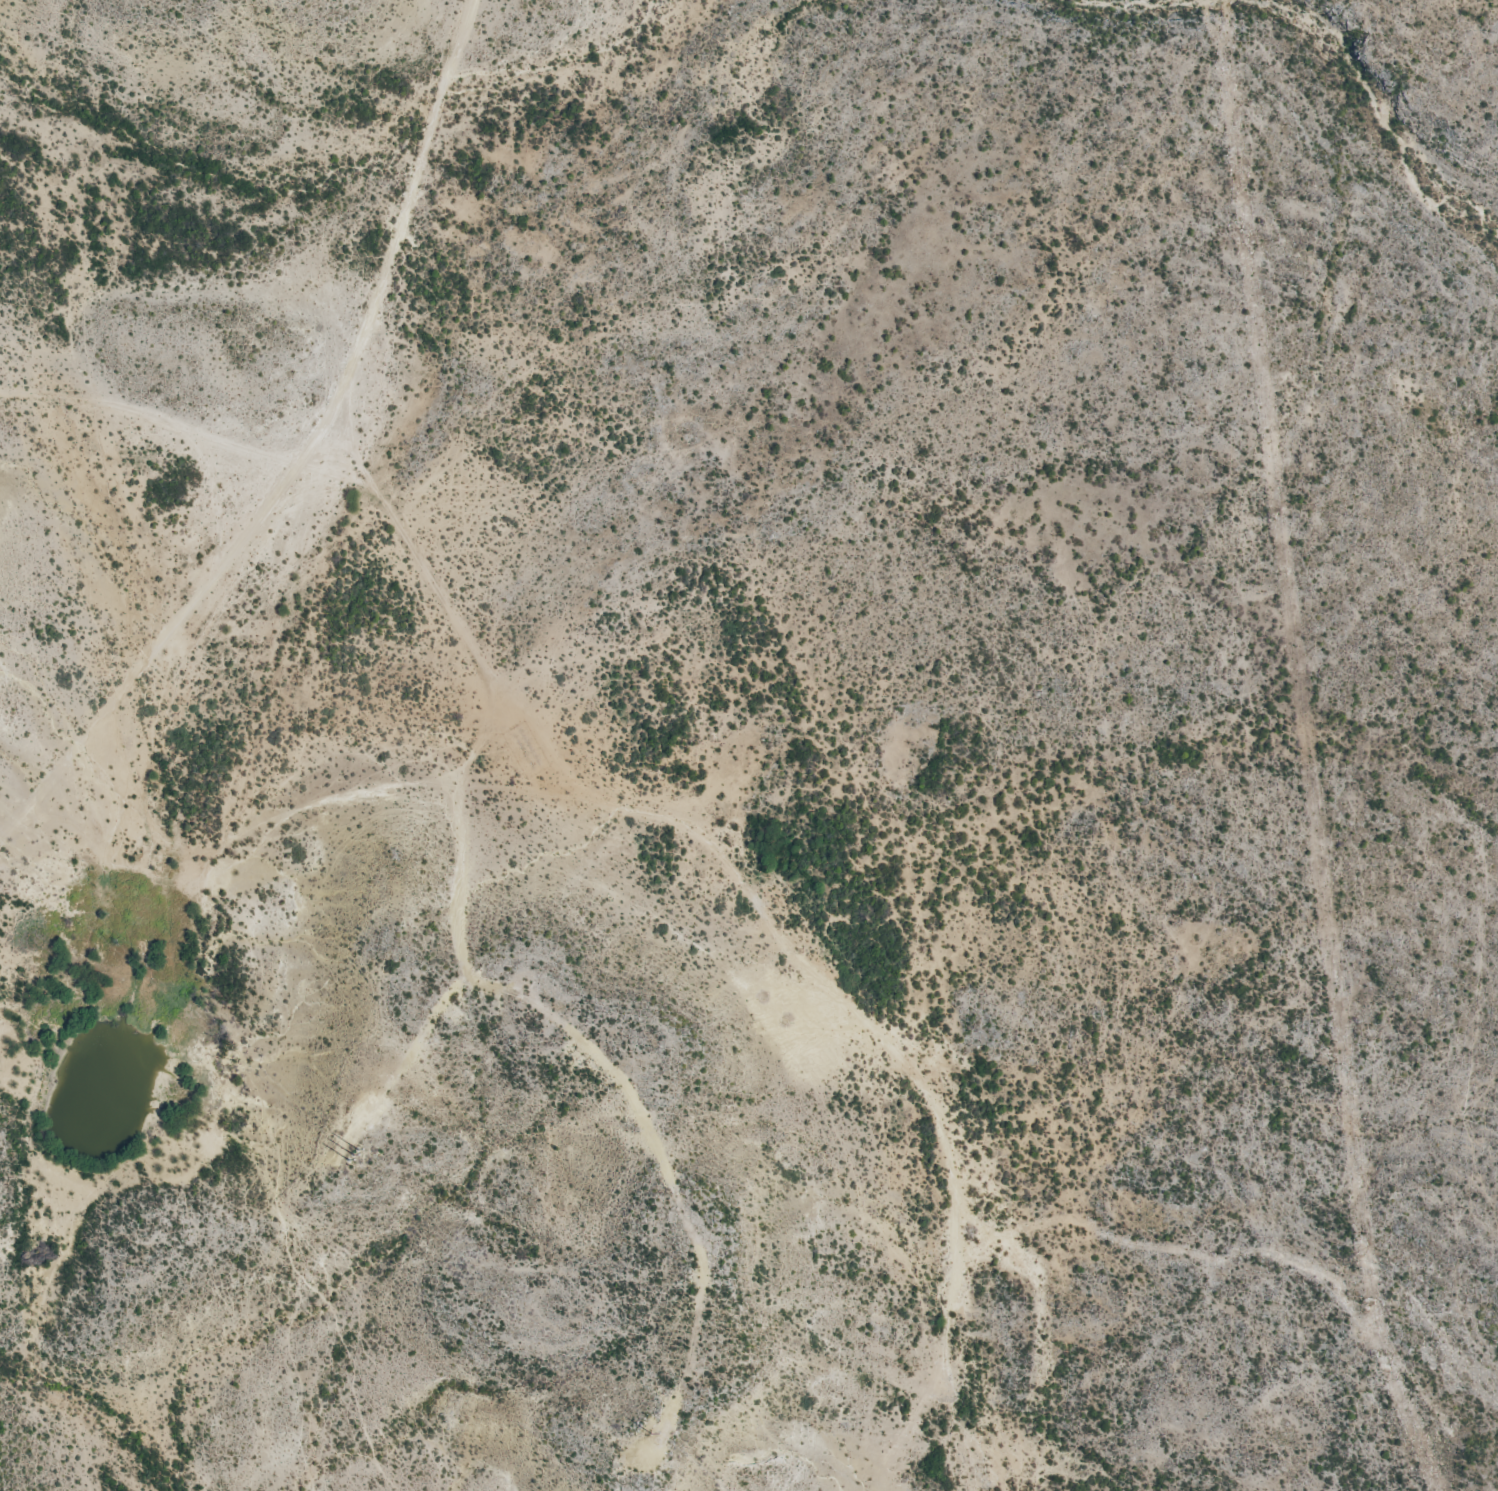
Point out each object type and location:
road: (311, 464)
power tower: (350, 1155)
power tower: (648, 1432)

